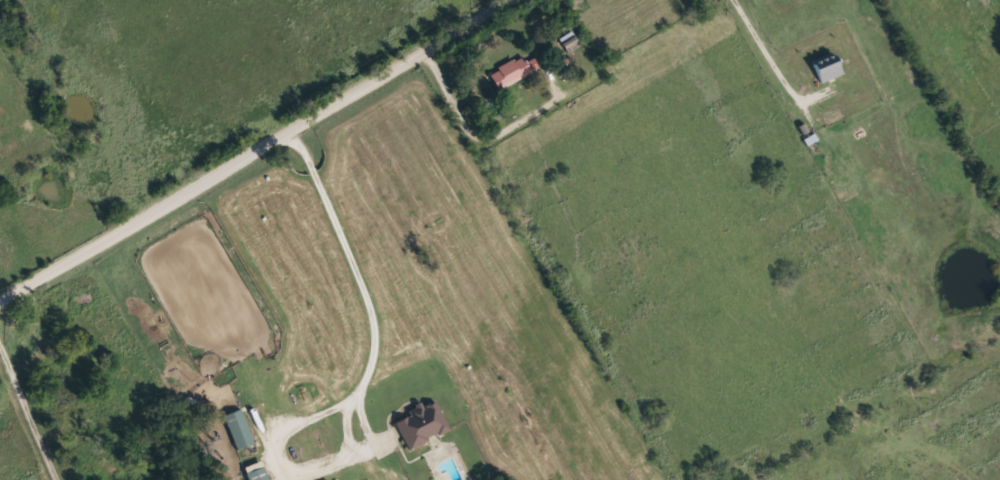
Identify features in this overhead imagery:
building: (569, 40)
road: (765, 51)
building: (828, 66)
building: (513, 70)
road: (536, 102)
road: (250, 149)
road: (354, 256)
road: (552, 262)
road: (30, 411)
building: (420, 424)
building: (239, 428)
building: (255, 471)

